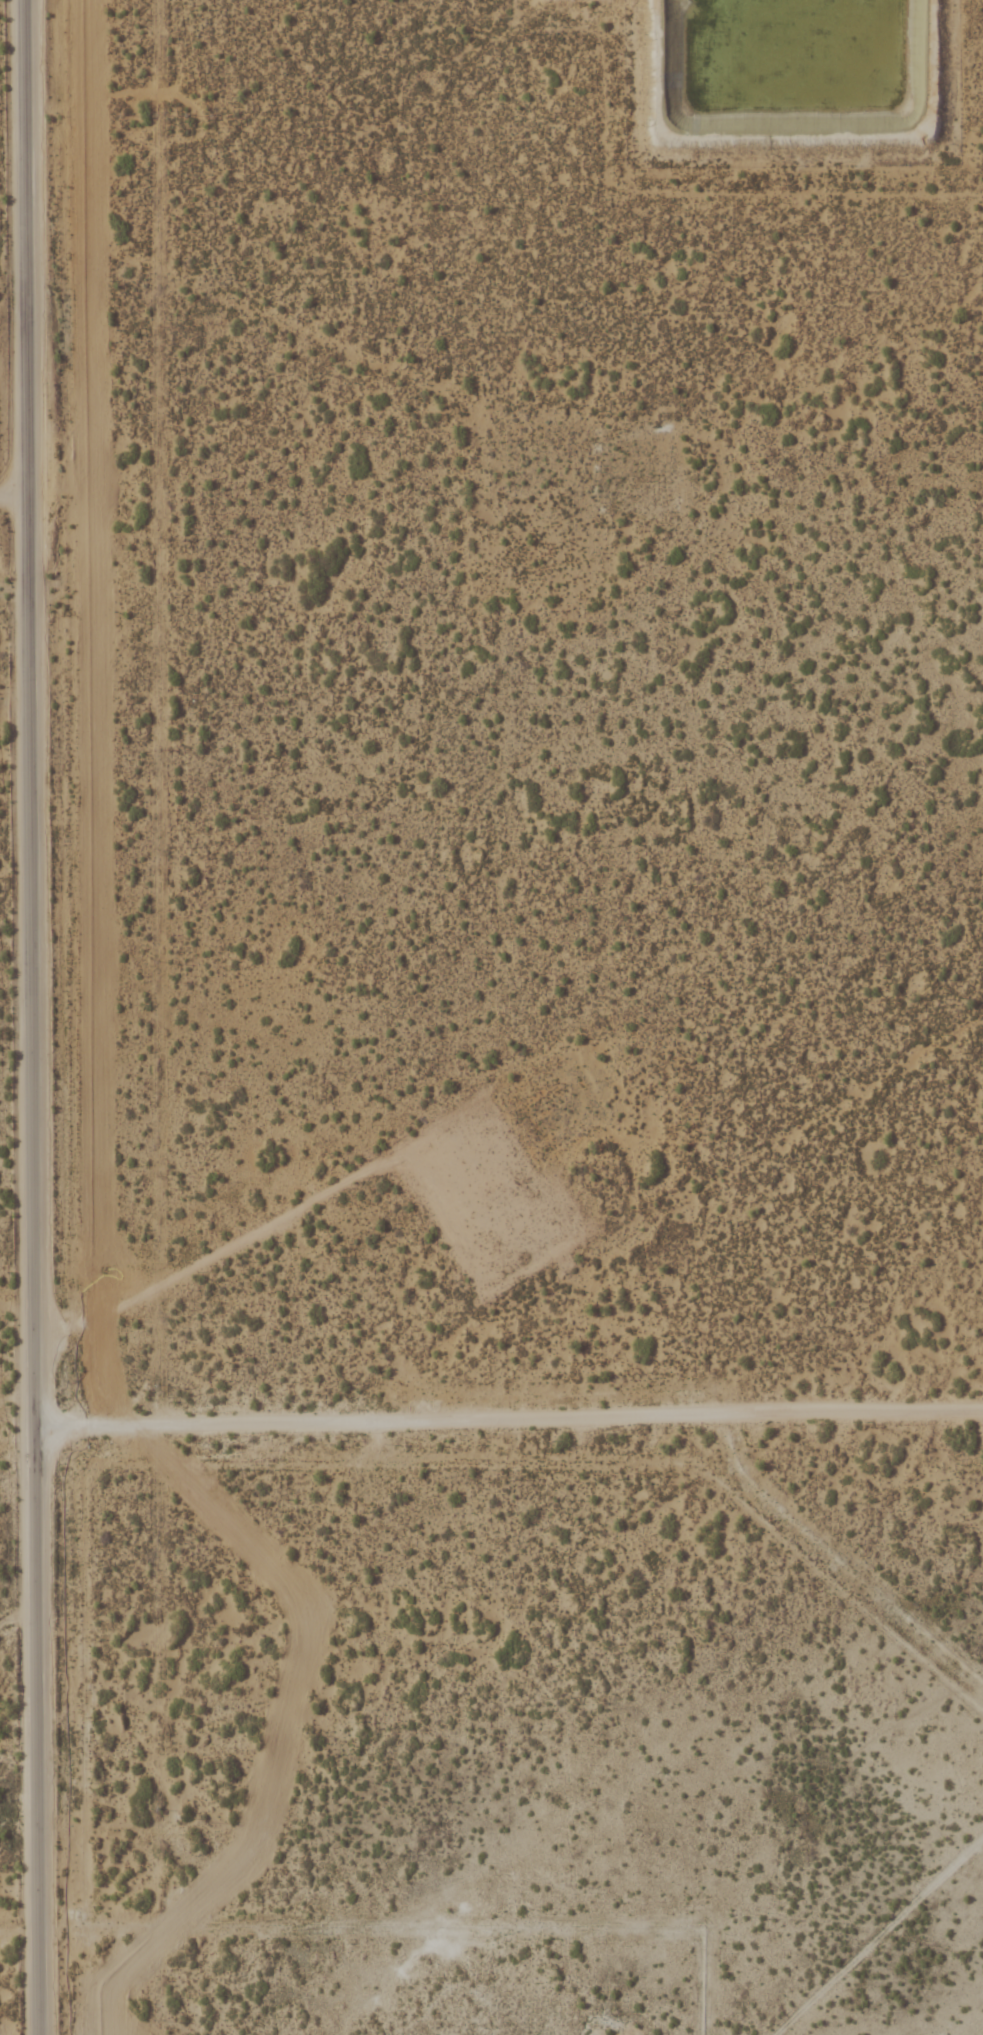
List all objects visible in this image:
road: (13, 481)
road: (31, 1017)
road: (305, 1214)
road: (508, 1415)

